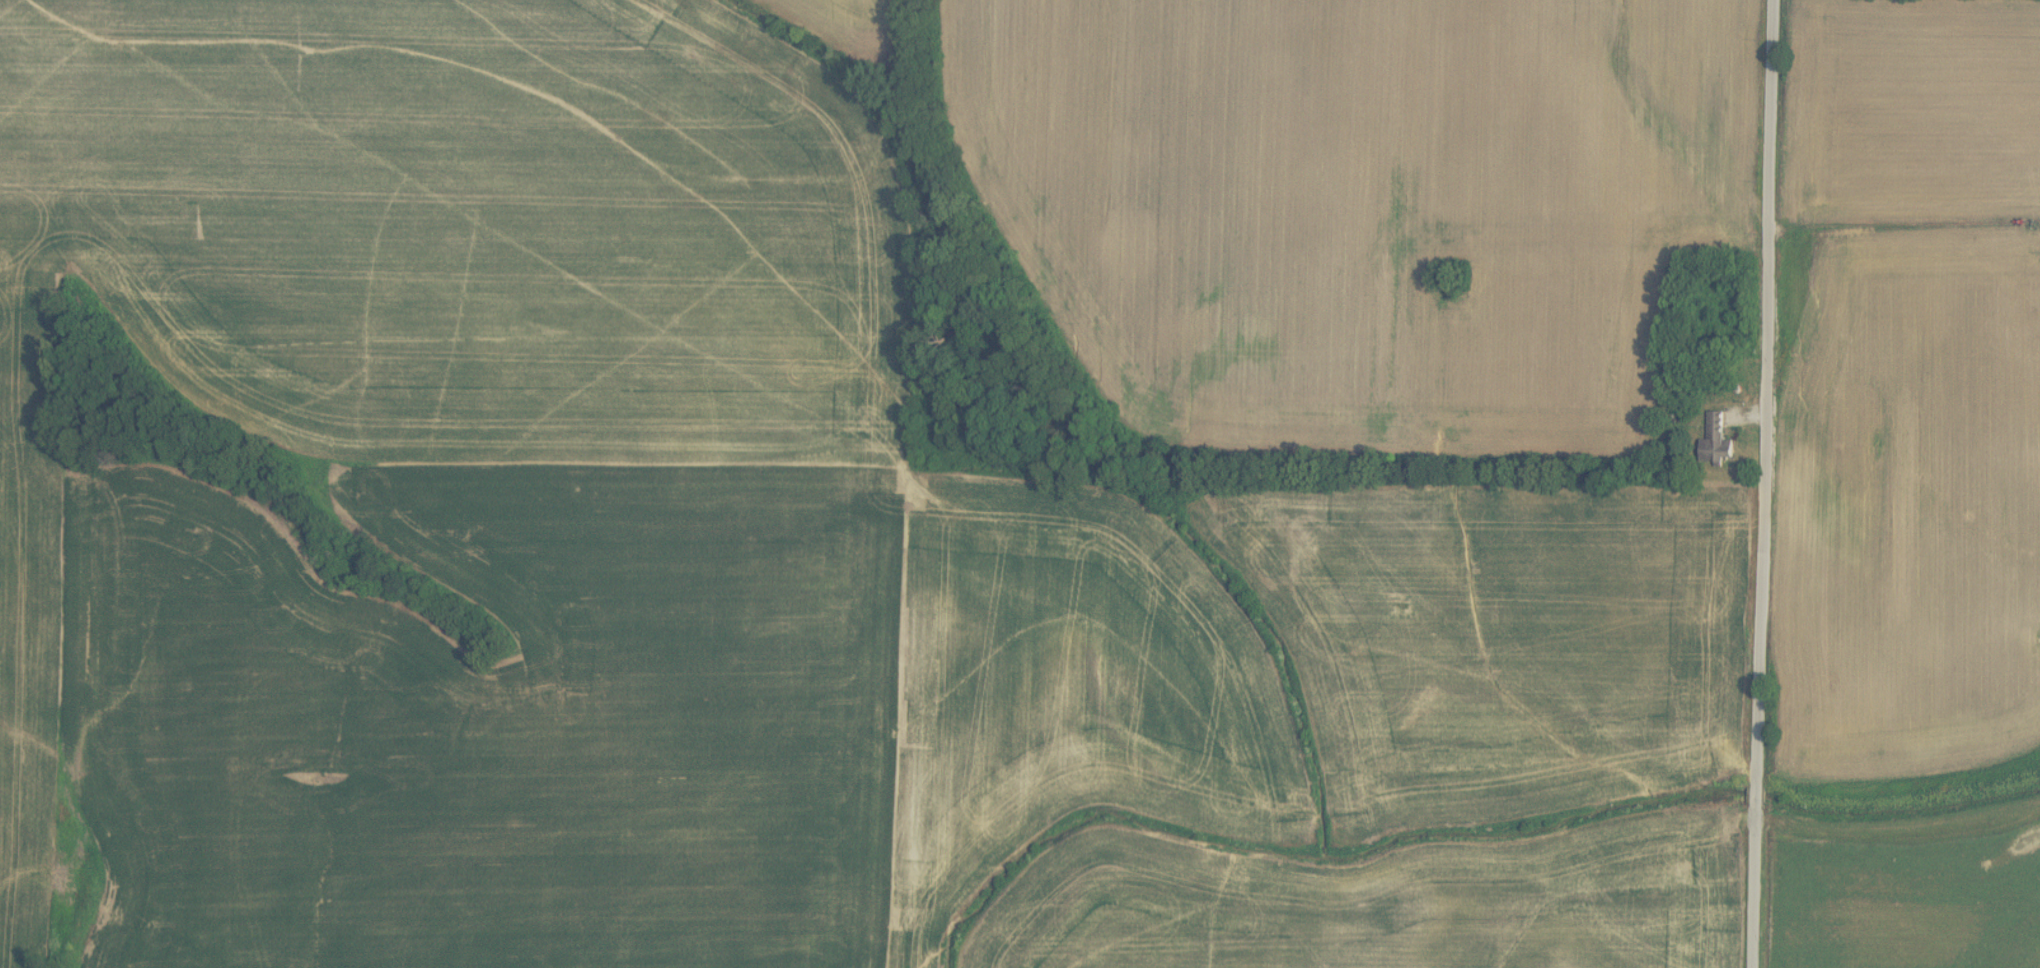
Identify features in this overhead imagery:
road: (1902, 225)
building: (1750, 366)
building: (1715, 443)
road: (1763, 484)

